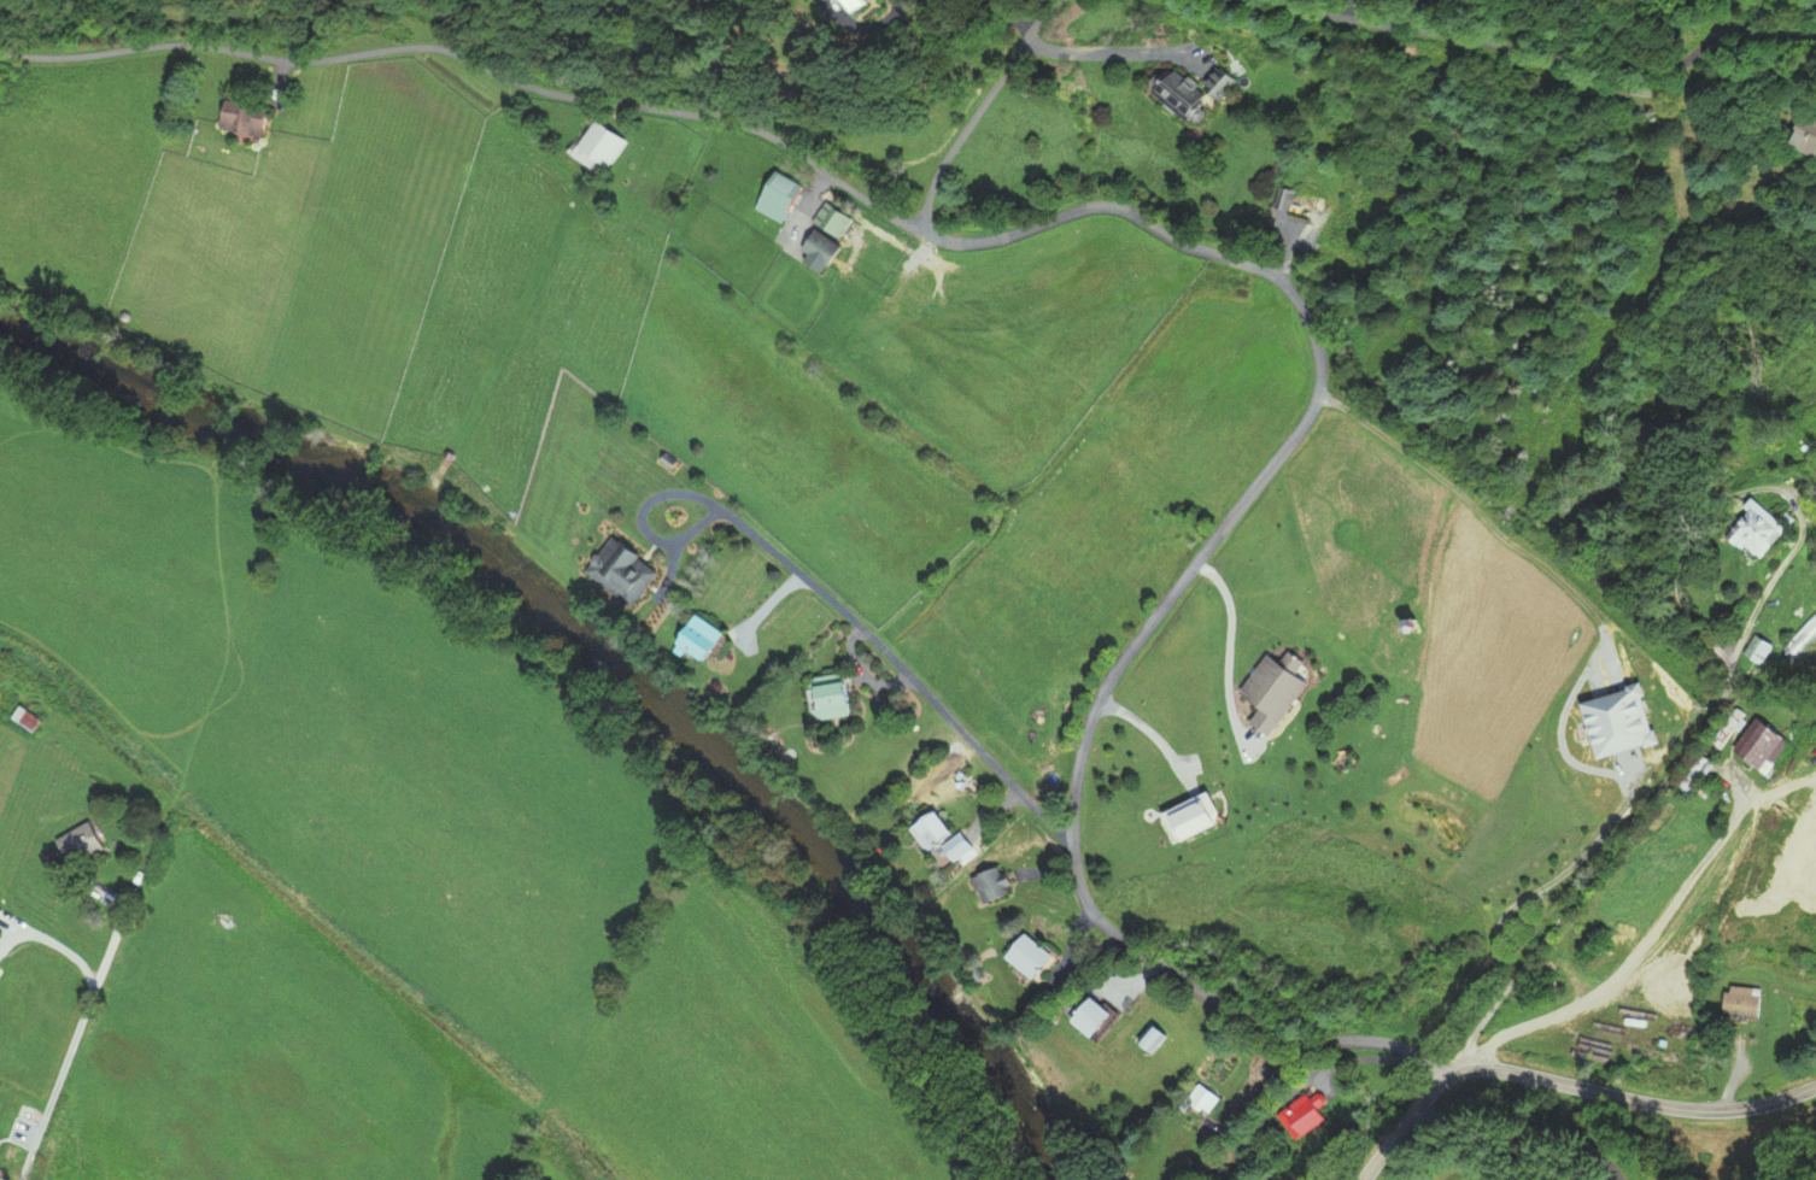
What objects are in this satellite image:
building: (837, 0)
building: (856, 4)
road: (1106, 52)
road: (1540, 59)
road: (476, 63)
building: (1178, 94)
road: (978, 110)
building: (238, 118)
building: (1810, 134)
building: (596, 142)
building: (775, 198)
building: (1271, 198)
building: (826, 219)
building: (819, 248)
road: (1483, 518)
building: (1742, 532)
building: (620, 571)
road: (1176, 589)
road: (828, 597)
building: (1802, 635)
building: (699, 639)
road: (1228, 648)
building: (1753, 653)
river: (593, 673)
building: (830, 697)
building: (29, 720)
building: (1757, 750)
road: (1662, 783)
building: (938, 835)
building: (81, 843)
building: (990, 886)
road: (53, 941)
road: (1639, 950)
building: (1029, 957)
building: (1745, 1004)
building: (1094, 1018)
road: (76, 1031)
building: (1150, 1037)
road: (1565, 1084)
building: (1201, 1098)
building: (1301, 1119)
road: (1572, 1127)

